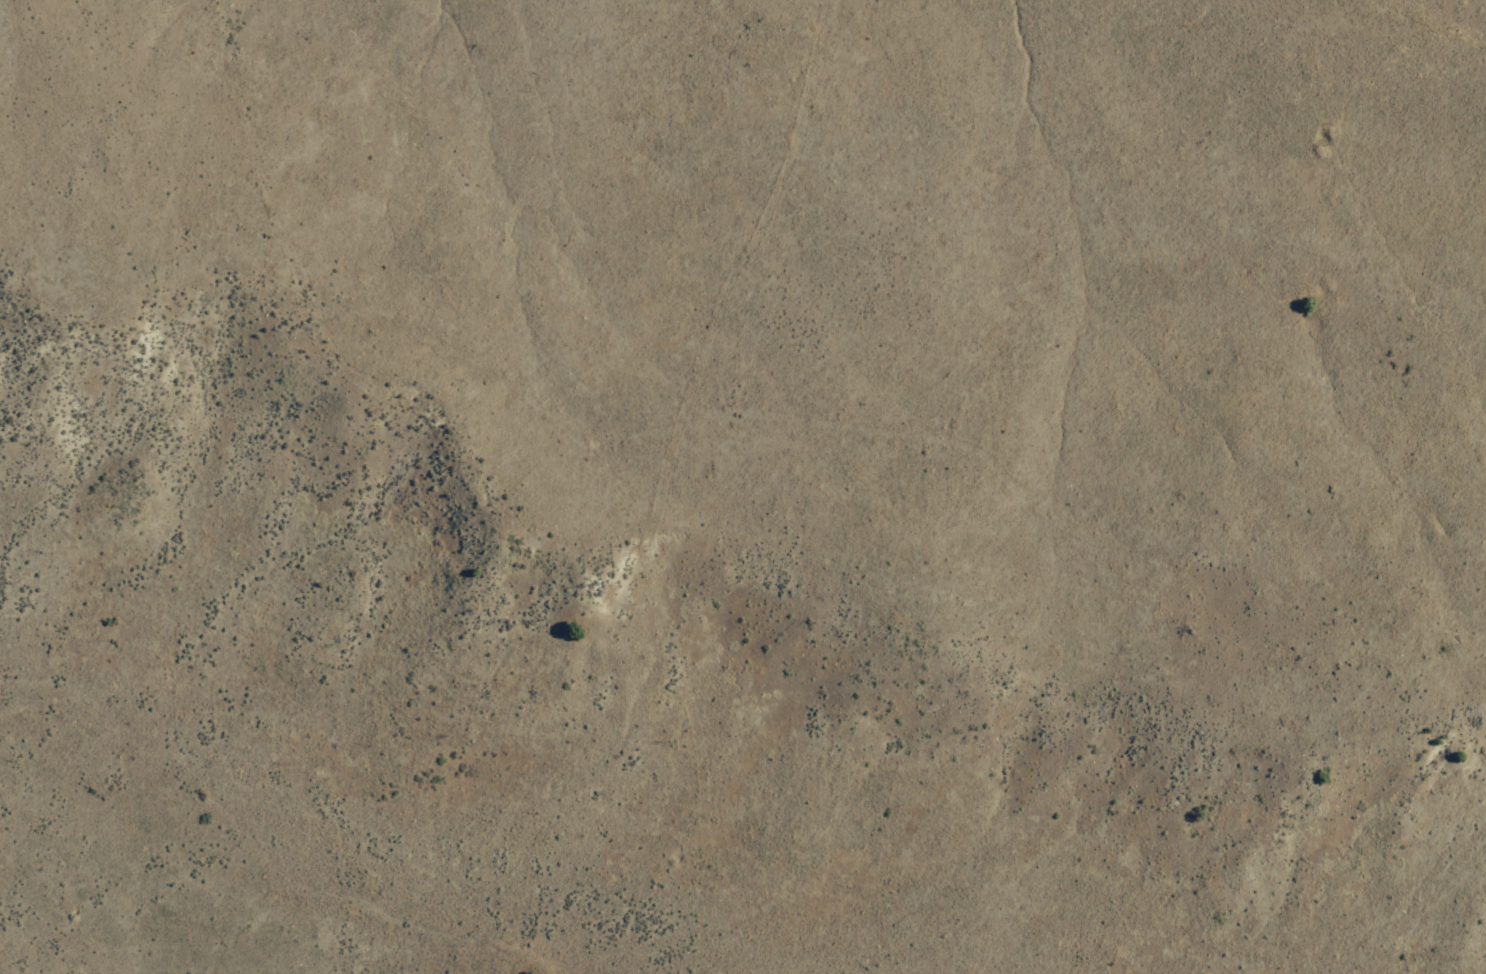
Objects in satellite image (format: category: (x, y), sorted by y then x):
crop: (757, 1)
crop: (1291, 45)
crop: (518, 797)

